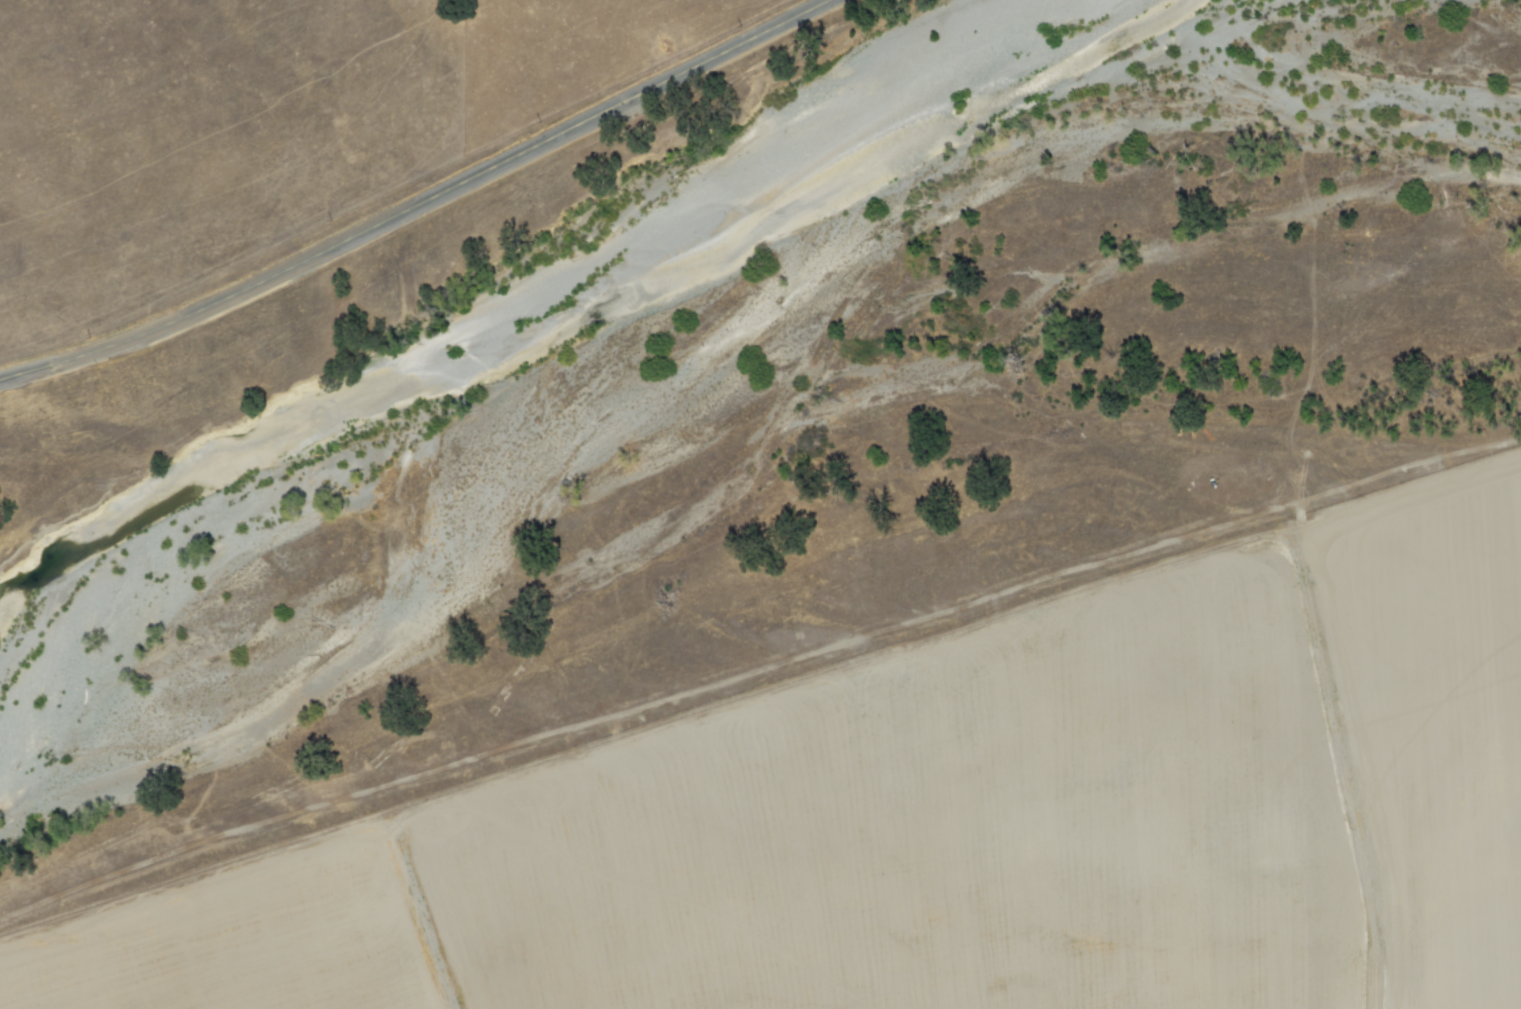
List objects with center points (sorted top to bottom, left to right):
road: (426, 206)
river: (509, 357)

